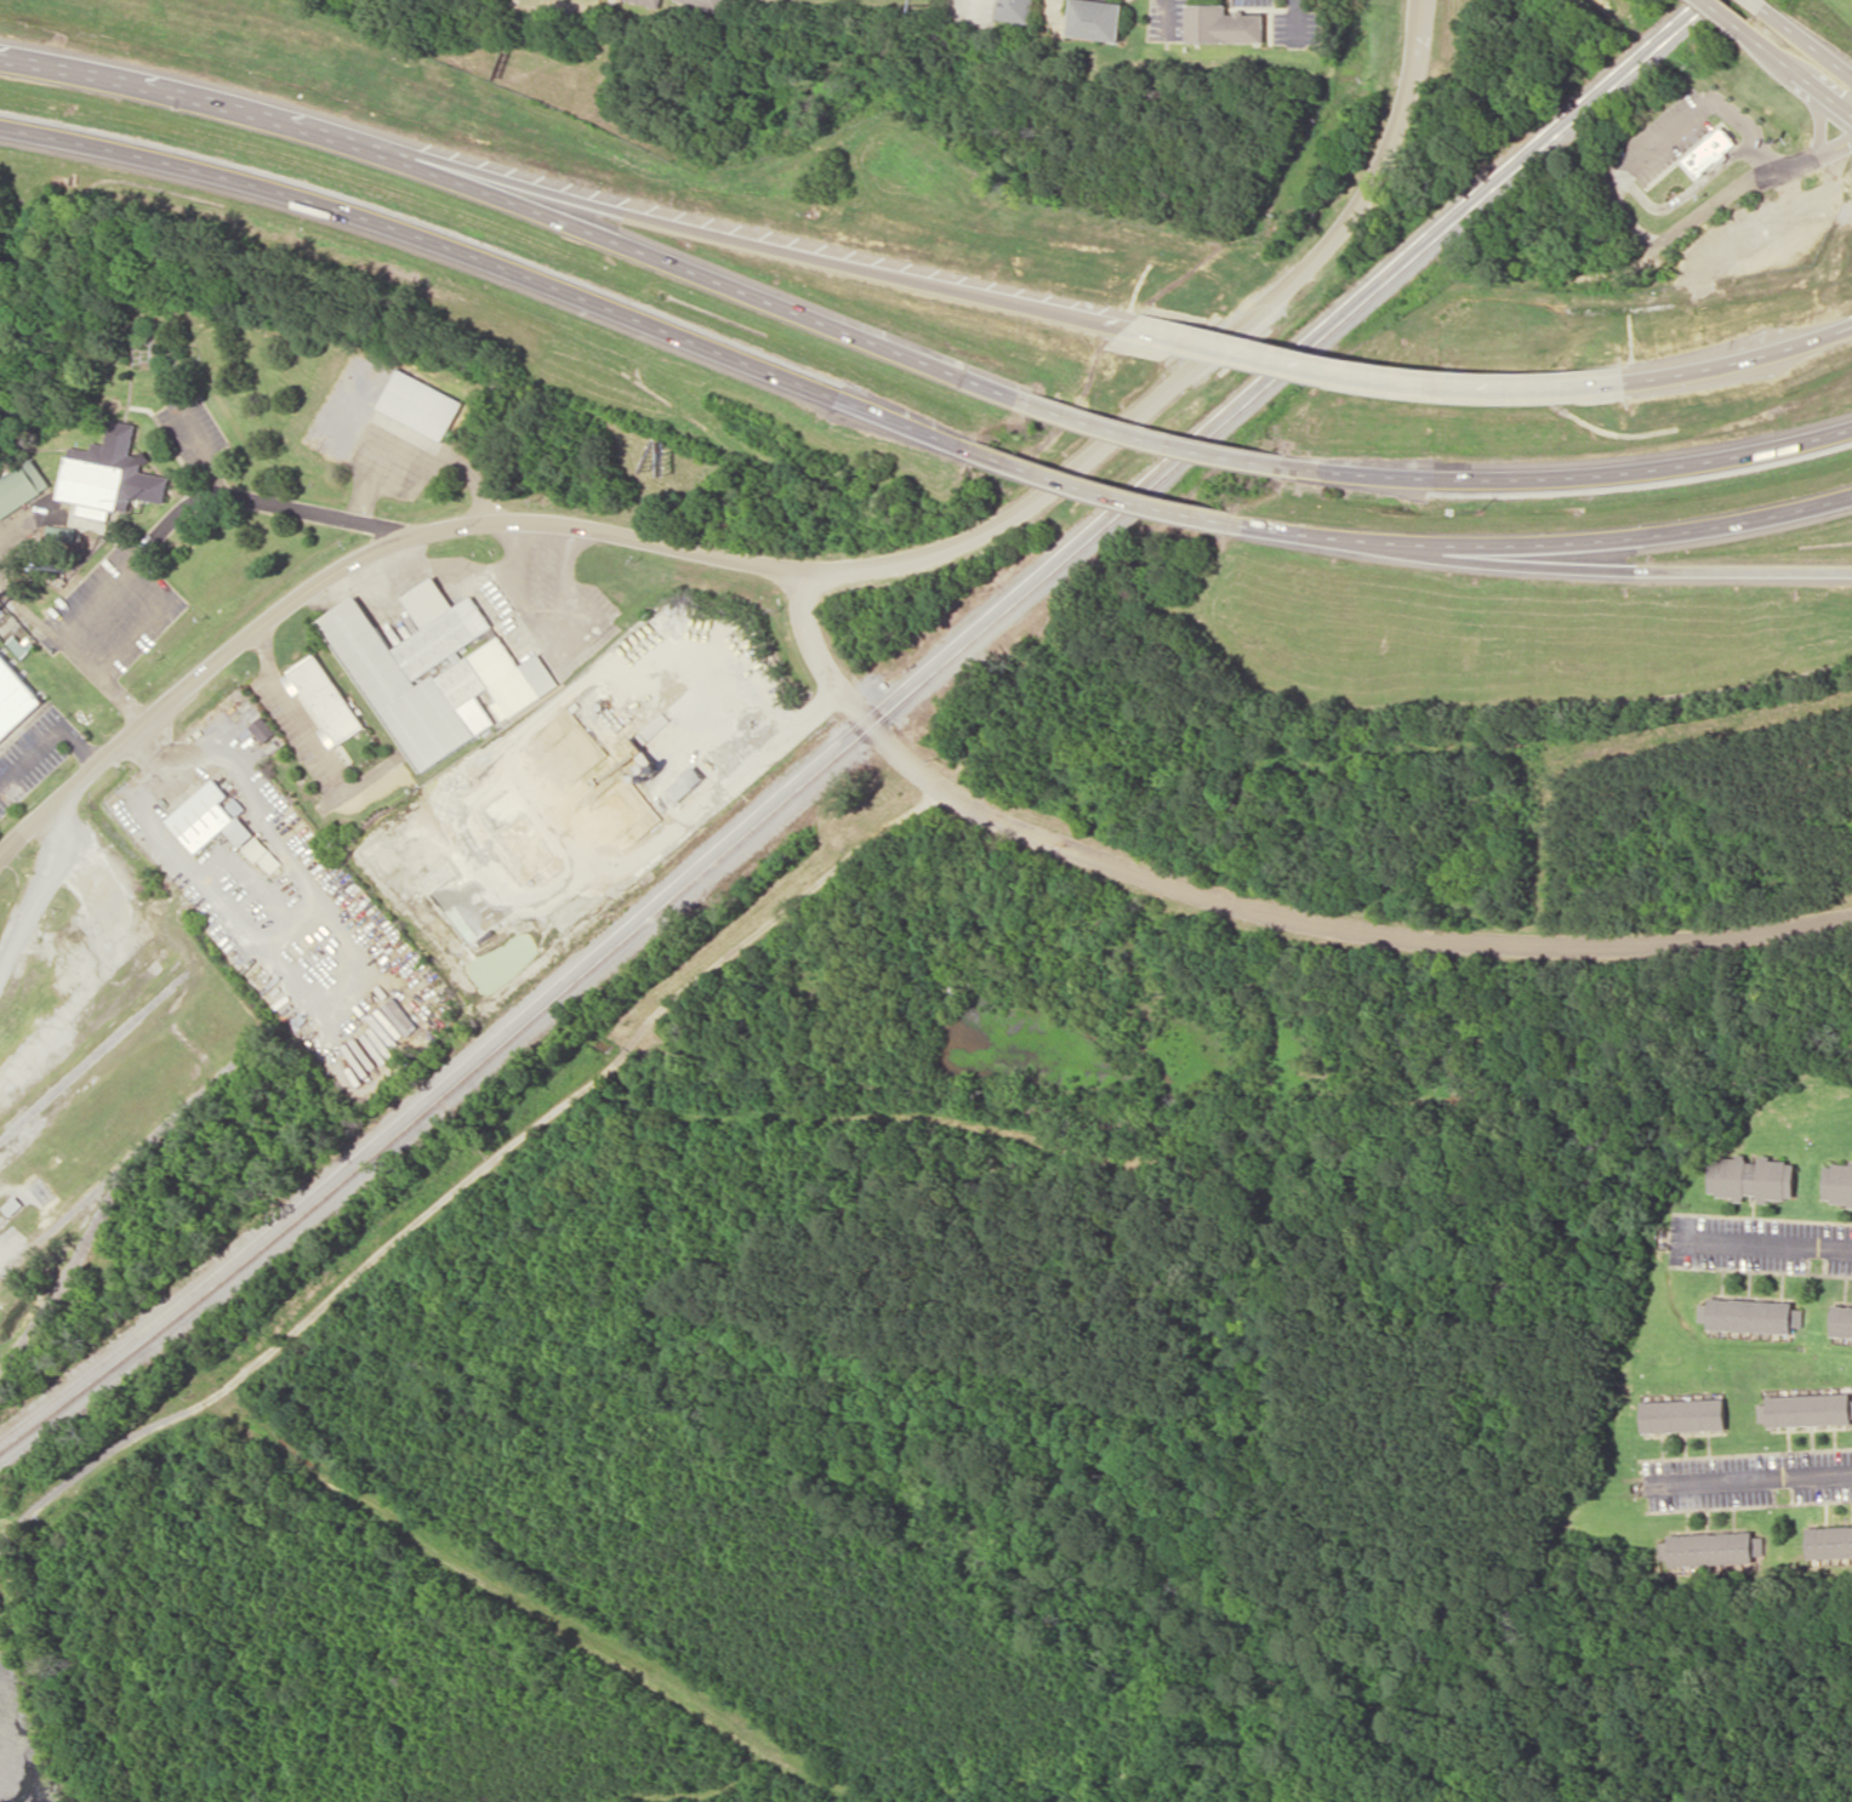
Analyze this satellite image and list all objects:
building: (654, 1)
road: (1759, 2)
building: (706, 4)
building: (1016, 10)
road: (1725, 12)
building: (1096, 18)
building: (1224, 23)
road: (1807, 41)
road: (1796, 69)
road: (1703, 104)
road: (1822, 115)
building: (1709, 152)
road: (1750, 179)
road: (1687, 190)
road: (517, 205)
road: (717, 234)
road: (489, 262)
road: (1742, 360)
road: (1378, 378)
building: (421, 403)
parking lot: (190, 426)
building: (408, 429)
road: (1170, 445)
road: (216, 473)
road: (1591, 473)
building: (112, 474)
building: (22, 485)
road: (1102, 494)
road: (258, 500)
road: (1551, 542)
road: (1630, 570)
road: (793, 574)
parking lot: (115, 610)
building: (21, 645)
building: (438, 671)
building: (15, 697)
building: (325, 698)
road: (125, 701)
building: (263, 728)
railway: (854, 728)
railway: (862, 735)
road: (80, 745)
road: (33, 757)
building: (685, 782)
building: (220, 823)
road: (1256, 907)
building: (314, 943)
railway: (90, 1039)
railway: (95, 1055)
railway: (133, 1156)
building: (1753, 1177)
building: (1839, 1182)
railway: (84, 1243)
road: (1763, 1244)
building: (1750, 1315)
building: (1842, 1319)
building: (1810, 1409)
building: (1683, 1414)
road: (1751, 1477)
building: (1830, 1540)
building: (1713, 1547)

